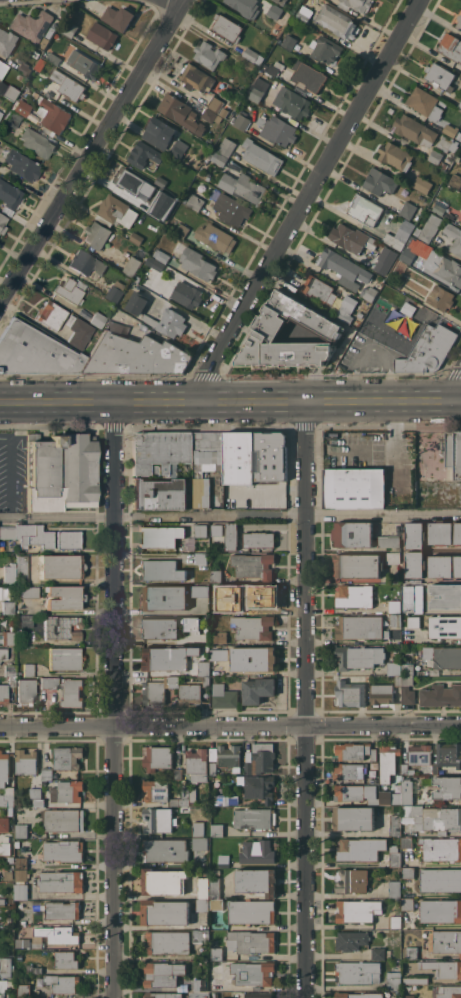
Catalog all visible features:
road: (174, 1)
building: (280, 1)
building: (356, 4)
building: (245, 7)
building: (305, 10)
building: (275, 11)
building: (118, 17)
building: (336, 21)
building: (459, 21)
building: (33, 25)
building: (227, 27)
building: (70, 28)
building: (103, 36)
building: (7, 41)
building: (44, 42)
building: (289, 42)
building: (450, 46)
building: (325, 49)
building: (35, 53)
building: (250, 53)
building: (208, 54)
building: (54, 58)
building: (246, 63)
building: (84, 64)
building: (25, 68)
building: (273, 68)
building: (2, 69)
building: (308, 76)
building: (440, 76)
building: (21, 78)
building: (196, 78)
building: (1, 85)
building: (68, 85)
building: (231, 89)
building: (257, 91)
building: (9, 93)
building: (293, 103)
building: (425, 103)
building: (460, 104)
building: (220, 106)
building: (21, 108)
building: (179, 111)
building: (211, 115)
building: (52, 116)
building: (11, 119)
building: (240, 121)
building: (261, 121)
building: (415, 130)
building: (450, 130)
building: (279, 131)
building: (159, 133)
building: (459, 136)
building: (36, 144)
building: (446, 144)
building: (227, 146)
building: (178, 149)
road: (91, 151)
building: (144, 154)
building: (395, 155)
building: (261, 157)
building: (219, 158)
building: (438, 158)
building: (21, 165)
building: (204, 174)
building: (455, 180)
building: (130, 181)
building: (161, 181)
building: (379, 182)
building: (422, 184)
building: (242, 187)
building: (9, 196)
road: (305, 201)
building: (460, 204)
building: (200, 205)
building: (439, 206)
building: (231, 209)
building: (364, 209)
building: (407, 210)
building: (116, 211)
building: (155, 215)
building: (460, 220)
building: (2, 224)
building: (428, 228)
building: (406, 230)
building: (181, 231)
building: (96, 235)
building: (215, 237)
building: (136, 238)
building: (352, 238)
building: (412, 239)
building: (394, 241)
building: (457, 241)
building: (380, 245)
building: (408, 255)
building: (166, 258)
building: (86, 262)
building: (196, 262)
building: (155, 263)
building: (383, 264)
building: (132, 266)
building: (343, 266)
building: (444, 267)
building: (318, 288)
building: (69, 290)
building: (116, 291)
building: (368, 292)
building: (187, 294)
building: (441, 297)
building: (138, 299)
building: (346, 307)
building: (362, 308)
building: (408, 309)
building: (51, 315)
building: (97, 320)
building: (168, 322)
building: (325, 327)
building: (77, 332)
building: (428, 350)
building: (35, 351)
building: (135, 356)
road: (453, 386)
road: (230, 402)
building: (208, 447)
building: (238, 450)
building: (161, 451)
building: (454, 452)
building: (271, 456)
road: (306, 459)
road: (114, 460)
building: (59, 473)
building: (418, 475)
building: (373, 484)
building: (160, 494)
building: (250, 495)
building: (270, 497)
road: (383, 516)
road: (210, 517)
road: (57, 518)
building: (216, 529)
building: (198, 530)
building: (7, 532)
building: (441, 533)
building: (458, 533)
building: (353, 534)
building: (415, 534)
building: (33, 536)
building: (159, 536)
building: (231, 536)
building: (67, 539)
building: (258, 539)
building: (389, 541)
building: (187, 545)
building: (201, 558)
building: (394, 558)
building: (415, 564)
building: (358, 565)
building: (60, 566)
building: (253, 566)
building: (442, 566)
building: (457, 566)
building: (21, 569)
building: (162, 570)
building: (9, 574)
building: (216, 575)
building: (413, 580)
building: (199, 591)
building: (27, 593)
building: (253, 596)
building: (354, 596)
building: (446, 596)
building: (63, 597)
building: (164, 597)
building: (408, 598)
building: (395, 606)
building: (7, 608)
building: (395, 620)
building: (24, 621)
building: (414, 622)
building: (159, 627)
building: (253, 627)
building: (360, 627)
building: (445, 627)
building: (61, 628)
building: (191, 630)
building: (215, 633)
building: (8, 639)
building: (2, 654)
building: (219, 654)
building: (359, 656)
building: (443, 656)
building: (167, 658)
building: (65, 659)
building: (254, 659)
building: (204, 668)
building: (394, 668)
building: (408, 669)
building: (28, 670)
building: (9, 671)
building: (173, 679)
building: (398, 680)
building: (206, 681)
building: (11, 682)
building: (49, 683)
building: (258, 689)
building: (408, 690)
building: (25, 692)
building: (72, 692)
building: (155, 693)
building: (350, 693)
building: (3, 694)
building: (190, 694)
building: (382, 694)
building: (441, 695)
building: (224, 696)
road: (230, 724)
building: (355, 751)
building: (228, 756)
building: (448, 756)
building: (68, 757)
road: (118, 757)
building: (157, 757)
road: (306, 757)
building: (421, 757)
building: (260, 759)
building: (26, 761)
building: (388, 762)
building: (197, 765)
building: (4, 767)
building: (213, 768)
building: (407, 769)
building: (350, 771)
building: (178, 773)
building: (47, 774)
building: (260, 787)
building: (397, 788)
building: (448, 788)
building: (156, 790)
building: (69, 791)
building: (407, 792)
building: (36, 793)
building: (357, 793)
building: (8, 797)
building: (421, 797)
building: (396, 798)
building: (185, 799)
building: (220, 799)
building: (39, 803)
building: (434, 817)
building: (255, 818)
building: (353, 818)
building: (159, 819)
building: (62, 820)
building: (4, 824)
building: (396, 824)
building: (198, 829)
building: (217, 830)
building: (21, 831)
building: (407, 842)
building: (200, 843)
building: (5, 848)
building: (441, 848)
building: (361, 849)
building: (64, 850)
building: (165, 850)
building: (257, 852)
building: (395, 856)
building: (224, 861)
building: (21, 862)
building: (393, 871)
building: (408, 873)
building: (8, 875)
building: (22, 875)
building: (352, 880)
building: (440, 880)
building: (61, 881)
building: (257, 881)
building: (164, 882)
building: (215, 887)
building: (203, 888)
building: (395, 889)
building: (22, 891)
building: (2, 902)
building: (408, 904)
building: (203, 905)
building: (216, 905)
building: (62, 910)
building: (252, 911)
building: (357, 911)
building: (441, 911)
building: (165, 913)
building: (395, 920)
building: (59, 934)
building: (200, 935)
building: (352, 940)
building: (251, 941)
building: (447, 941)
building: (23, 942)
building: (168, 943)
building: (37, 945)
building: (411, 952)
building: (217, 953)
building: (378, 954)
building: (66, 959)
building: (6, 966)
building: (445, 968)
building: (34, 969)
building: (357, 972)
building: (253, 973)
building: (163, 974)
building: (416, 980)
building: (394, 981)
building: (63, 983)
building: (216, 984)
building: (6, 985)
building: (200, 985)
building: (24, 990)
building: (449, 992)
building: (163, 995)
building: (195, 995)
building: (215, 995)
building: (259, 995)
building: (359, 995)
building: (408, 996)
building: (228, 997)

